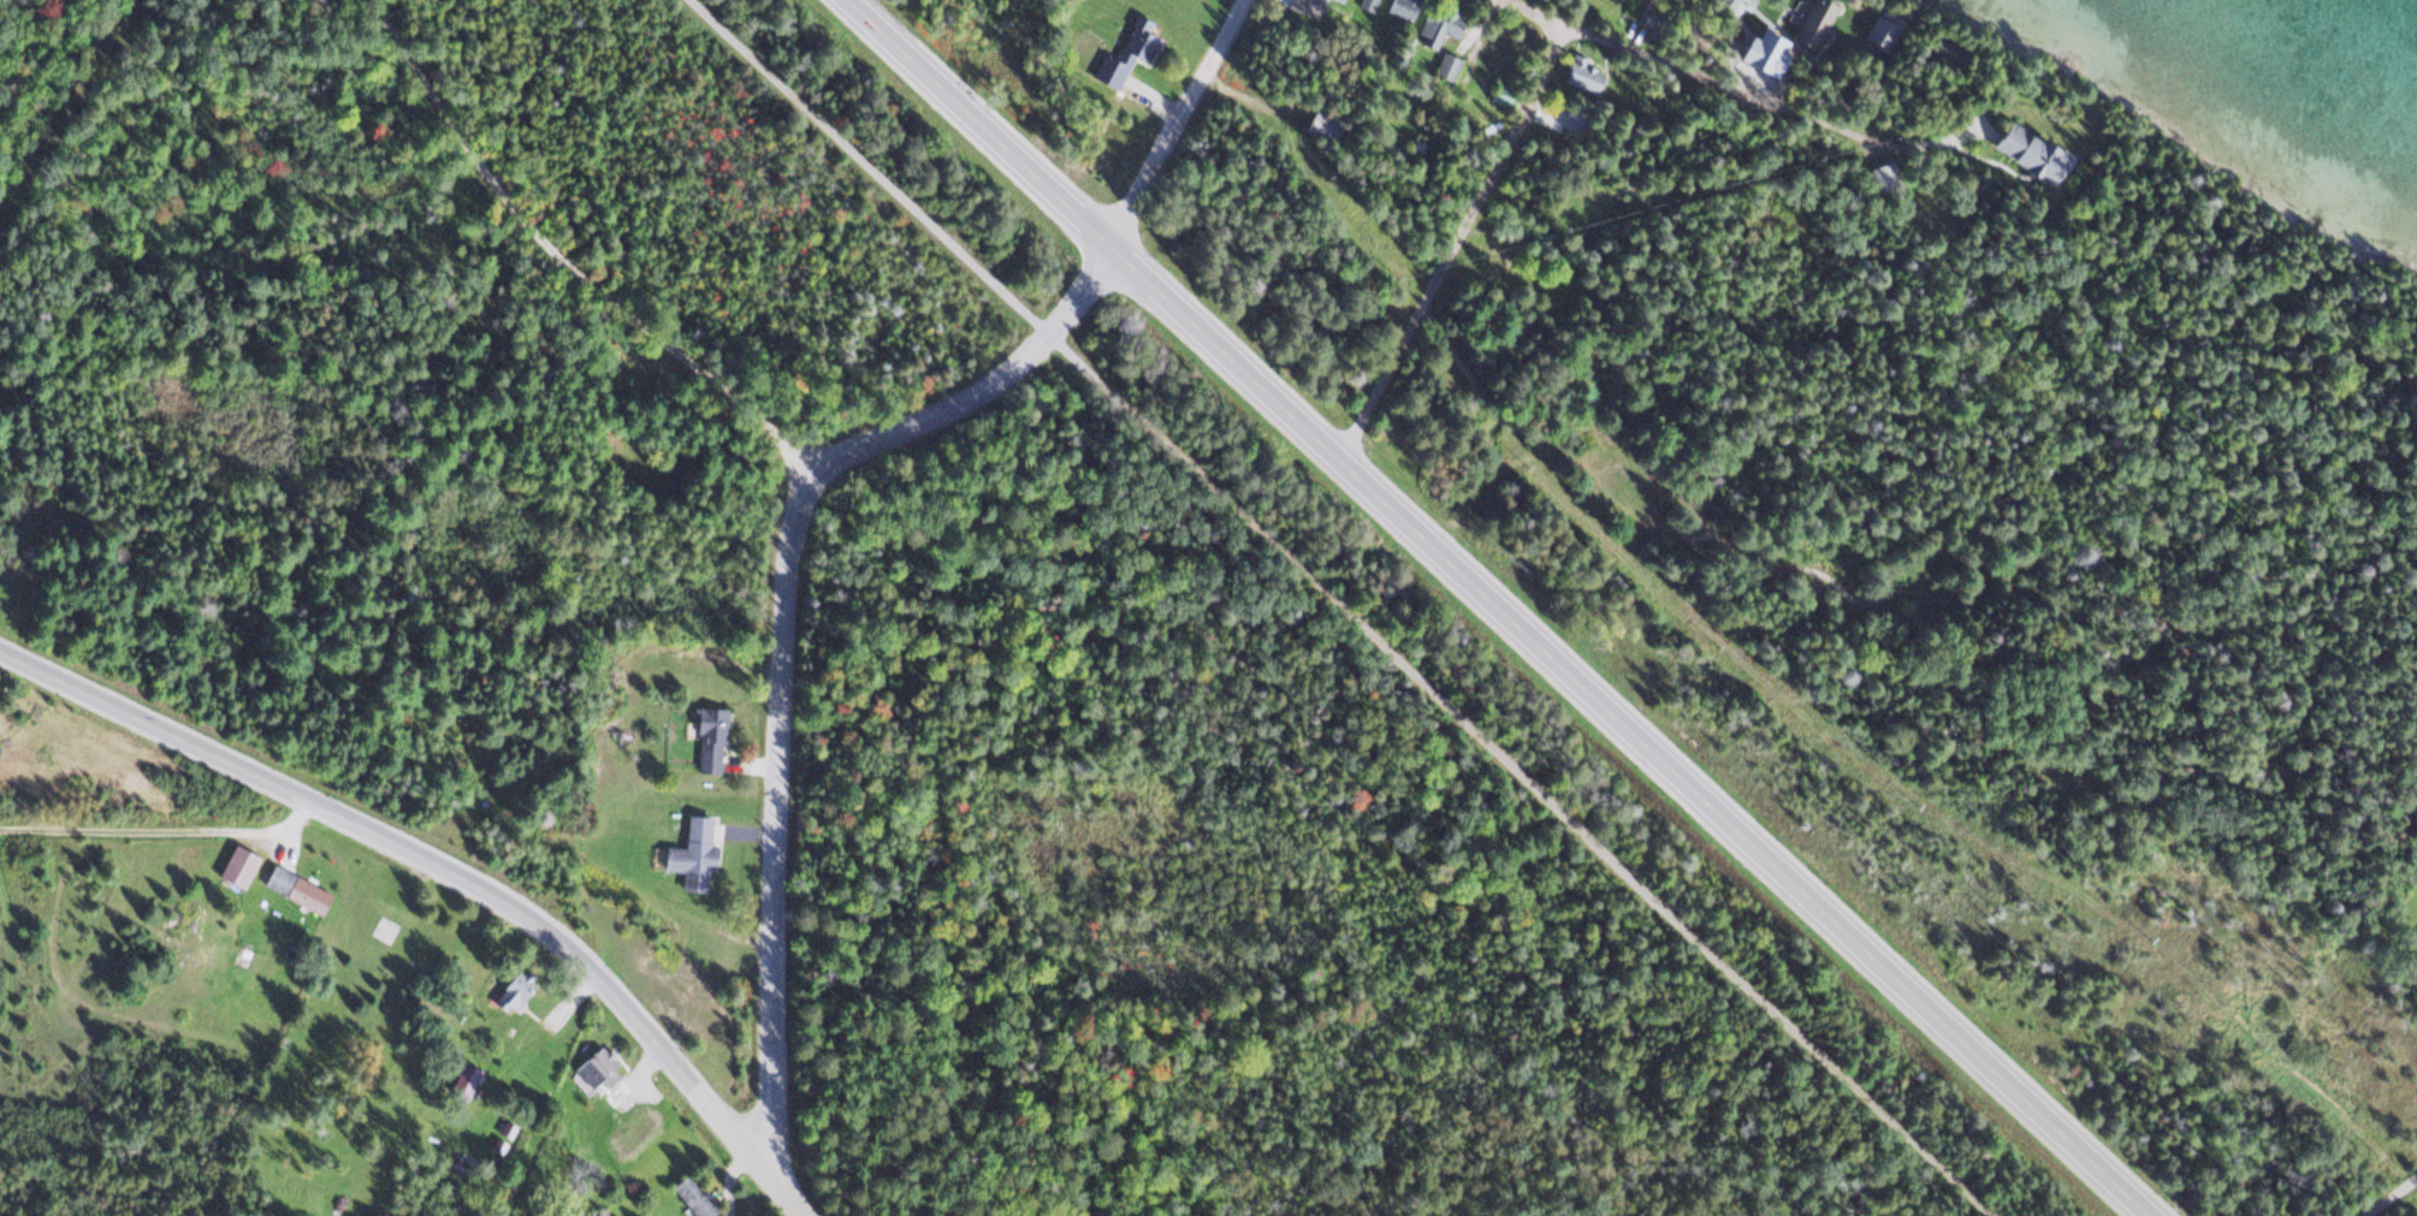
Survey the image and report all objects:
building: (1337, 0)
building: (1362, 4)
building: (1302, 6)
building: (1394, 8)
building: (1429, 26)
building: (1812, 28)
building: (1116, 61)
building: (1441, 66)
road: (1701, 73)
building: (1575, 75)
building: (2020, 150)
road: (1458, 243)
road: (557, 257)
building: (1489, 260)
road: (798, 481)
road: (1498, 606)
road: (1334, 607)
building: (706, 740)
road: (160, 829)
road: (273, 838)
building: (689, 853)
building: (238, 865)
road: (449, 870)
building: (296, 889)
building: (506, 991)
building: (592, 1067)
building: (457, 1081)
building: (689, 1194)
road: (2393, 1197)

